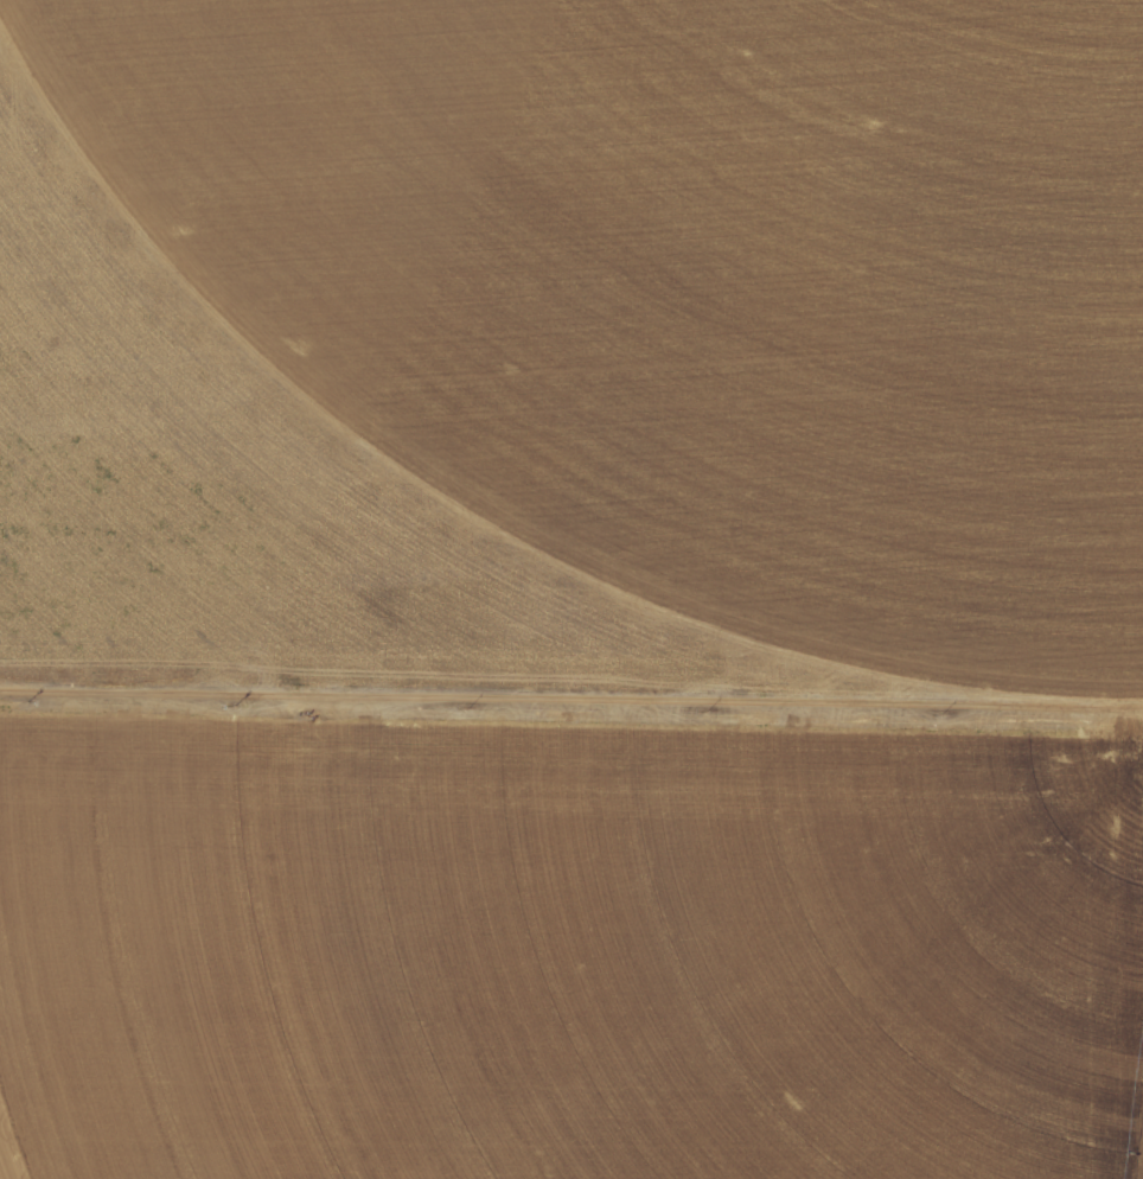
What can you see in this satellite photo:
road: (571, 699)

